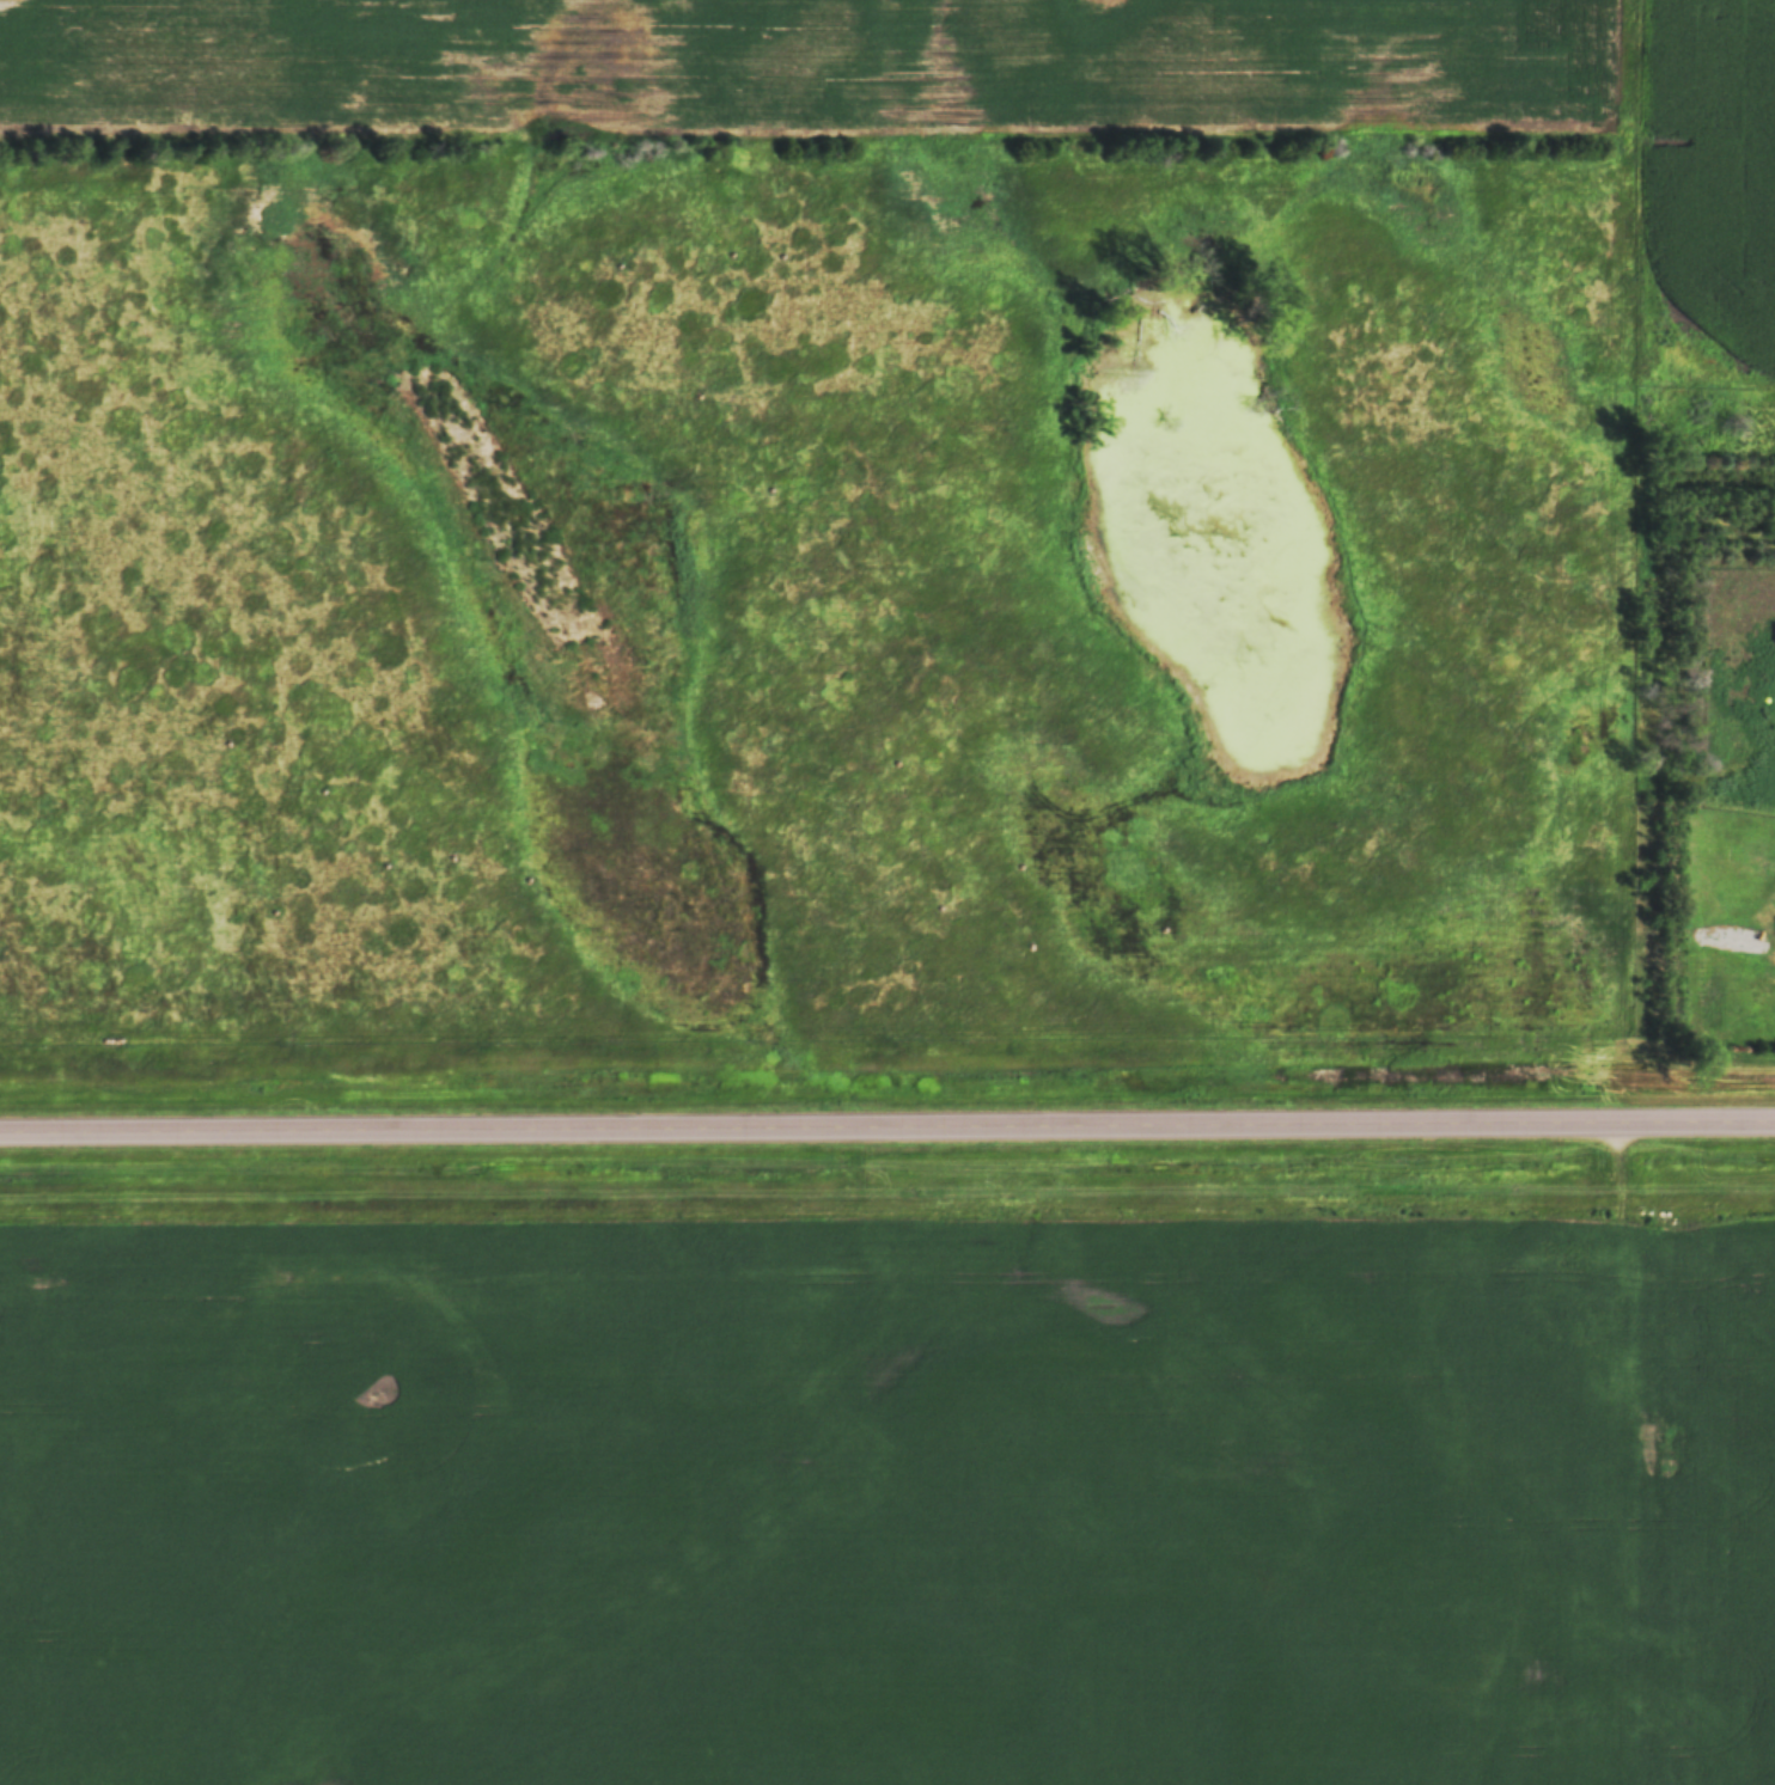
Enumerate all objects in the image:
building: (1774, 635)
road: (887, 1112)

